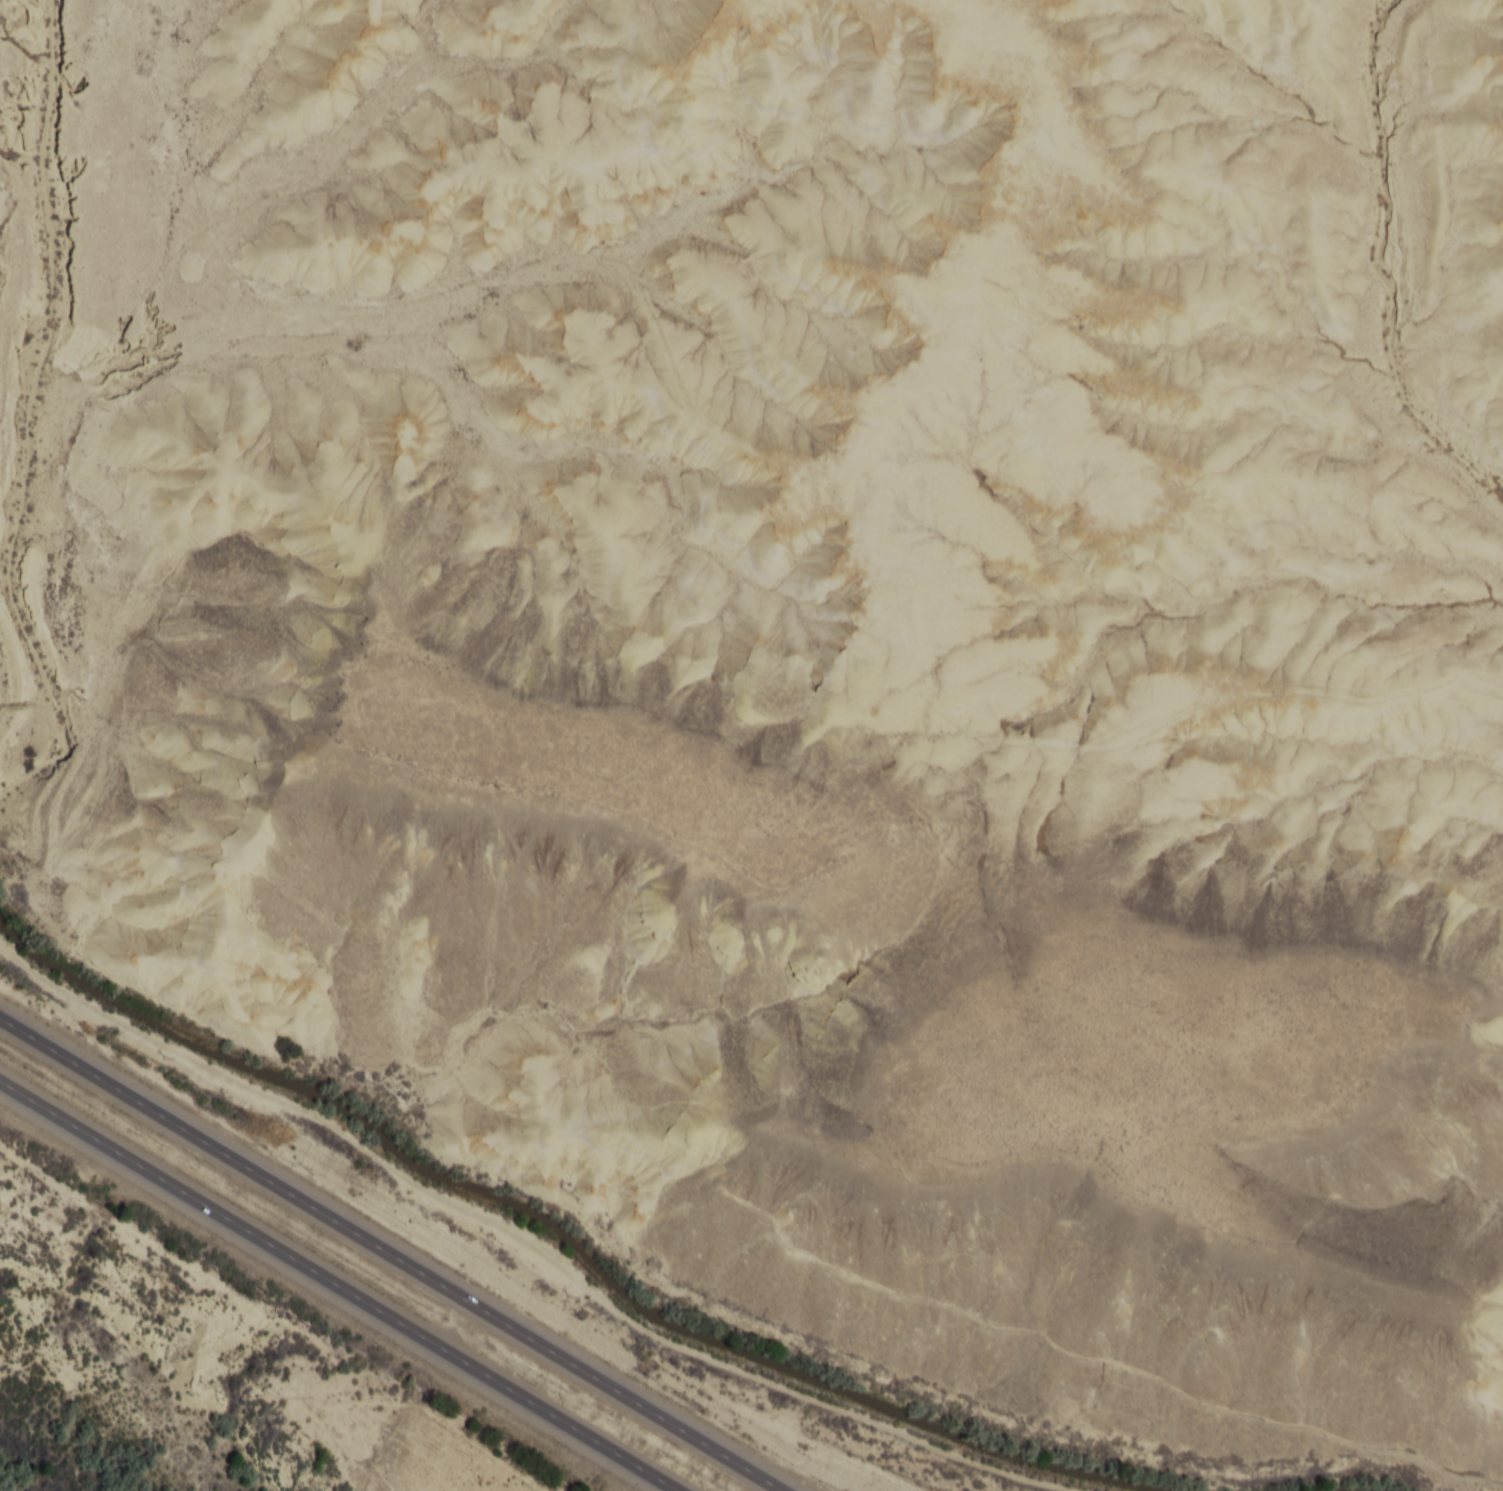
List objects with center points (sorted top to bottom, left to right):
road: (389, 1255)
road: (336, 1286)

